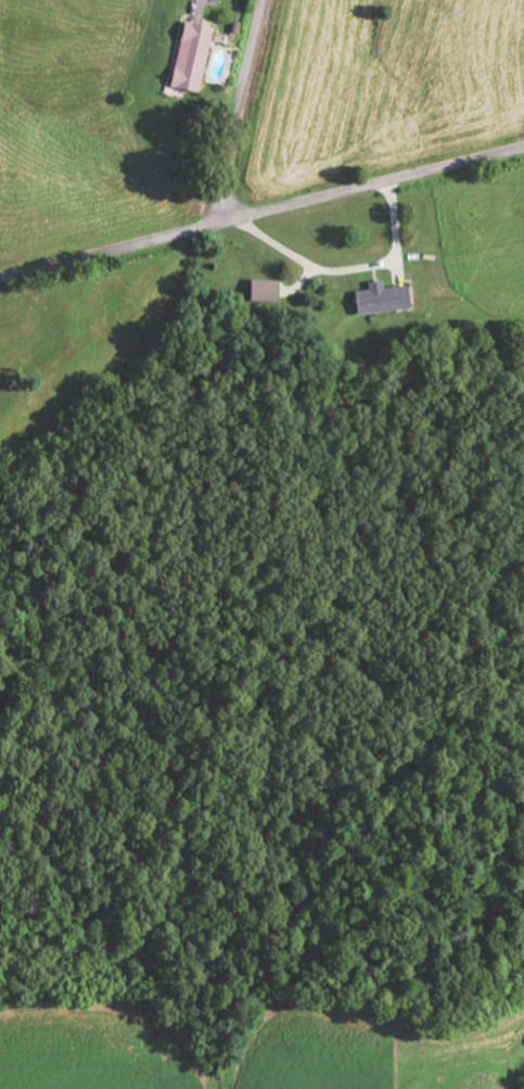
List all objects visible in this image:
building: (191, 58)
road: (234, 112)
road: (261, 215)
building: (260, 292)
building: (378, 301)

